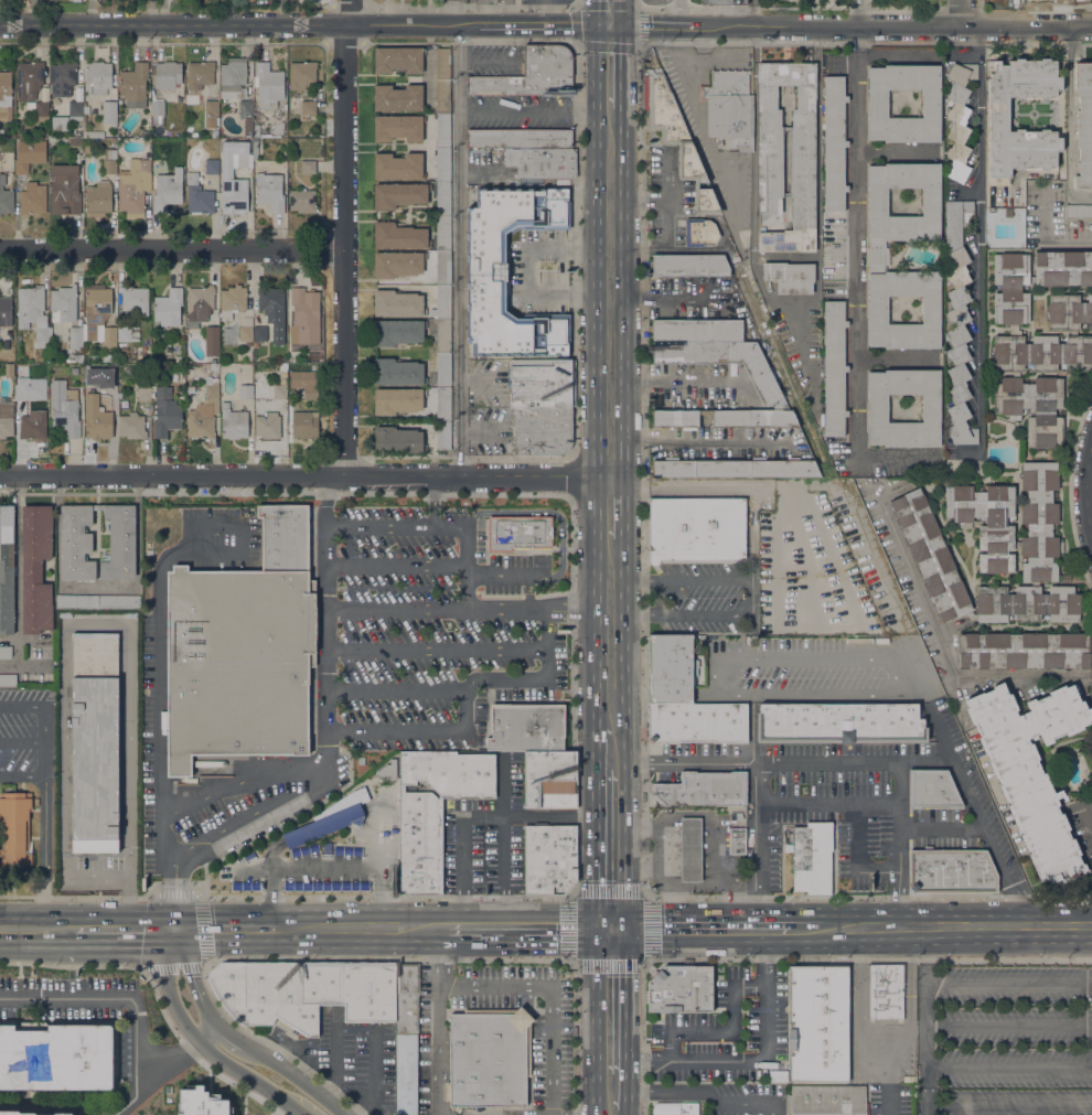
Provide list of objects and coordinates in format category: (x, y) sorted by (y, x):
road: (578, 2)
road: (638, 2)
building: (722, 2)
road: (578, 6)
road: (789, 8)
road: (385, 11)
road: (451, 12)
road: (548, 12)
road: (597, 12)
road: (624, 12)
road: (678, 12)
road: (754, 12)
road: (957, 12)
road: (239, 23)
road: (537, 24)
traffic signals: (597, 25)
road: (610, 25)
traffic signals: (624, 25)
road: (663, 25)
road: (897, 25)
building: (398, 60)
building: (442, 64)
road: (624, 66)
building: (168, 74)
building: (200, 74)
building: (532, 74)
building: (302, 75)
building: (98, 77)
building: (232, 77)
building: (62, 78)
building: (29, 79)
building: (133, 85)
building: (268, 86)
building: (6, 96)
building: (442, 97)
building: (398, 98)
road: (693, 103)
building: (878, 104)
building: (38, 107)
building: (212, 108)
building: (729, 108)
building: (158, 109)
building: (75, 110)
building: (308, 110)
road: (527, 110)
building: (220, 111)
road: (610, 111)
building: (109, 112)
building: (998, 114)
building: (246, 116)
building: (959, 118)
building: (60, 121)
road: (1068, 122)
building: (78, 126)
building: (1083, 126)
building: (278, 128)
building: (398, 128)
building: (256, 131)
building: (442, 131)
building: (93, 135)
building: (518, 138)
building: (54, 140)
building: (678, 141)
building: (20, 142)
building: (834, 142)
building: (255, 147)
building: (109, 161)
building: (543, 161)
building: (770, 162)
building: (442, 165)
building: (22, 167)
building: (212, 167)
building: (308, 167)
building: (397, 167)
building: (227, 172)
building: (133, 186)
building: (64, 189)
building: (168, 190)
building: (269, 191)
building: (399, 194)
building: (197, 196)
building: (6, 197)
building: (98, 197)
building: (33, 199)
building: (442, 200)
building: (302, 201)
building: (1079, 211)
building: (699, 232)
building: (443, 234)
building: (398, 236)
road: (343, 237)
road: (978, 237)
road: (624, 243)
road: (610, 248)
road: (171, 249)
road: (458, 249)
building: (877, 255)
road: (857, 260)
building: (397, 264)
building: (689, 266)
building: (443, 268)
road: (528, 270)
building: (488, 271)
building: (790, 277)
road: (610, 296)
building: (135, 299)
building: (232, 301)
building: (410, 303)
building: (63, 304)
building: (199, 304)
building: (168, 307)
building: (301, 308)
building: (272, 310)
building: (6, 311)
building: (1069, 312)
building: (33, 313)
building: (98, 319)
building: (957, 321)
building: (697, 331)
building: (398, 332)
building: (127, 334)
building: (245, 335)
building: (259, 335)
building: (442, 336)
building: (76, 337)
building: (212, 340)
building: (1036, 341)
building: (78, 358)
building: (722, 362)
building: (107, 366)
building: (212, 366)
building: (834, 368)
building: (9, 369)
building: (443, 371)
building: (397, 372)
road: (610, 378)
road: (683, 378)
road: (597, 382)
building: (542, 384)
building: (280, 389)
building: (22, 392)
building: (109, 392)
building: (246, 392)
building: (143, 393)
building: (290, 393)
building: (310, 393)
building: (119, 395)
building: (211, 395)
building: (397, 400)
building: (442, 405)
road: (624, 408)
building: (878, 408)
building: (65, 409)
building: (165, 412)
building: (96, 418)
building: (726, 418)
building: (6, 419)
building: (201, 422)
building: (233, 422)
building: (304, 425)
building: (33, 426)
building: (131, 426)
building: (268, 426)
building: (542, 430)
building: (443, 436)
road: (610, 439)
building: (397, 440)
road: (705, 440)
road: (624, 461)
building: (735, 469)
road: (216, 474)
road: (529, 474)
road: (749, 486)
road: (1086, 496)
road: (433, 502)
road: (624, 512)
road: (547, 513)
road: (220, 525)
road: (396, 528)
building: (696, 529)
building: (518, 533)
road: (193, 537)
building: (286, 537)
building: (76, 543)
building: (993, 549)
railway: (609, 557)
road: (396, 566)
road: (467, 568)
building: (7, 569)
building: (35, 569)
road: (505, 575)
road: (706, 578)
road: (642, 579)
road: (660, 597)
building: (76, 601)
building: (118, 602)
road: (474, 610)
road: (642, 615)
road: (706, 615)
road: (325, 626)
road: (437, 650)
building: (1024, 650)
road: (158, 651)
building: (4, 652)
road: (946, 653)
building: (237, 663)
road: (722, 666)
building: (670, 668)
building: (8, 679)
road: (540, 680)
road: (395, 690)
road: (22, 708)
road: (464, 710)
building: (697, 722)
building: (839, 722)
building: (527, 726)
road: (751, 728)
road: (394, 731)
road: (627, 733)
road: (22, 741)
road: (45, 742)
building: (95, 742)
road: (597, 753)
building: (361, 760)
road: (803, 762)
road: (624, 763)
building: (388, 770)
building: (1031, 770)
road: (22, 775)
road: (239, 779)
building: (548, 780)
building: (932, 789)
building: (703, 790)
building: (344, 802)
road: (973, 804)
road: (831, 805)
building: (435, 810)
road: (257, 815)
road: (900, 816)
road: (545, 817)
road: (322, 823)
road: (504, 823)
road: (761, 823)
building: (323, 826)
building: (14, 829)
road: (942, 829)
building: (737, 840)
road: (172, 848)
building: (307, 849)
building: (350, 849)
road: (597, 849)
building: (690, 849)
road: (44, 851)
road: (387, 854)
road: (462, 855)
road: (857, 857)
building: (548, 858)
building: (811, 858)
road: (310, 871)
building: (951, 871)
road: (270, 881)
building: (249, 882)
building: (330, 882)
road: (173, 889)
road: (574, 892)
road: (900, 899)
road: (761, 907)
road: (1017, 910)
road: (463, 911)
road: (505, 911)
road: (1080, 925)
road: (944, 926)
road: (36, 928)
road: (124, 928)
road: (708, 928)
road: (805, 928)
traffic signals: (173, 929)
road: (228, 929)
road: (366, 929)
road: (523, 929)
traffic signals: (597, 929)
road: (612, 929)
traffic signals: (629, 929)
road: (201, 934)
road: (860, 945)
road: (909, 945)
road: (925, 955)
road: (766, 957)
road: (1008, 985)
building: (679, 989)
building: (306, 991)
building: (886, 991)
road: (106, 996)
road: (553, 996)
road: (629, 1000)
road: (907, 1019)
road: (439, 1021)
road: (597, 1021)
building: (817, 1023)
road: (860, 1025)
road: (1008, 1028)
road: (726, 1031)
building: (406, 1037)
road: (238, 1039)
road: (200, 1042)
road: (924, 1049)
building: (56, 1058)
building: (489, 1058)
road: (752, 1061)
road: (651, 1062)
road: (165, 1066)
road: (1008, 1066)
road: (375, 1076)
road: (890, 1090)
road: (629, 1093)
road: (705, 1098)
building: (827, 1100)
building: (202, 1102)
road: (1008, 1105)
building: (675, 1108)
building: (14, 1113)
building: (64, 1114)
road: (627, 1114)

